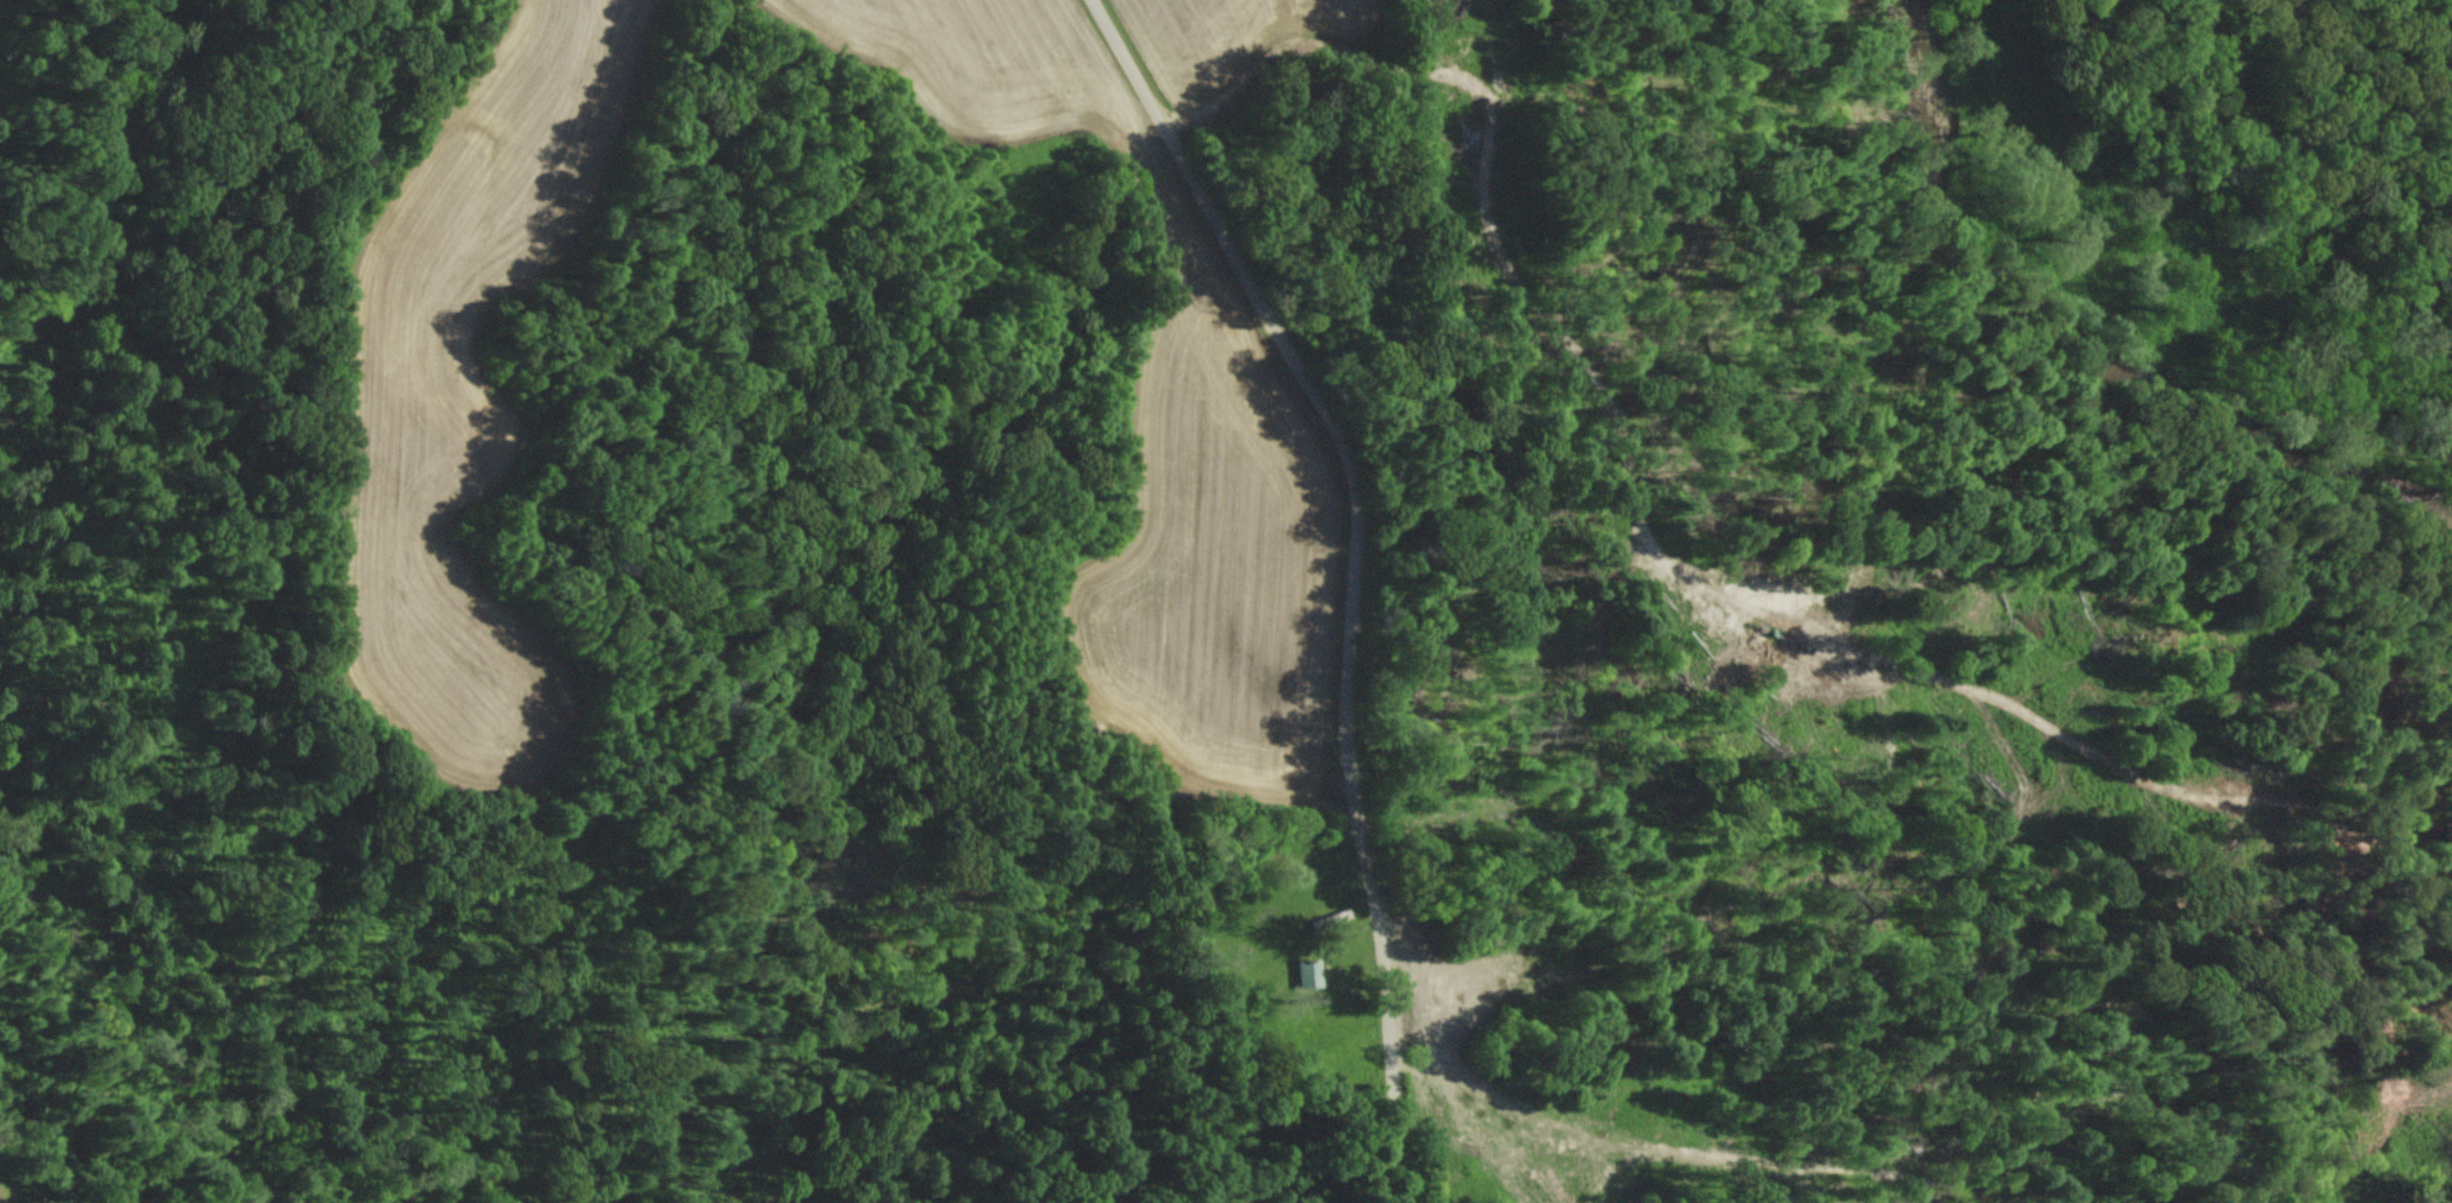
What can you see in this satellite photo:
road: (1363, 563)

